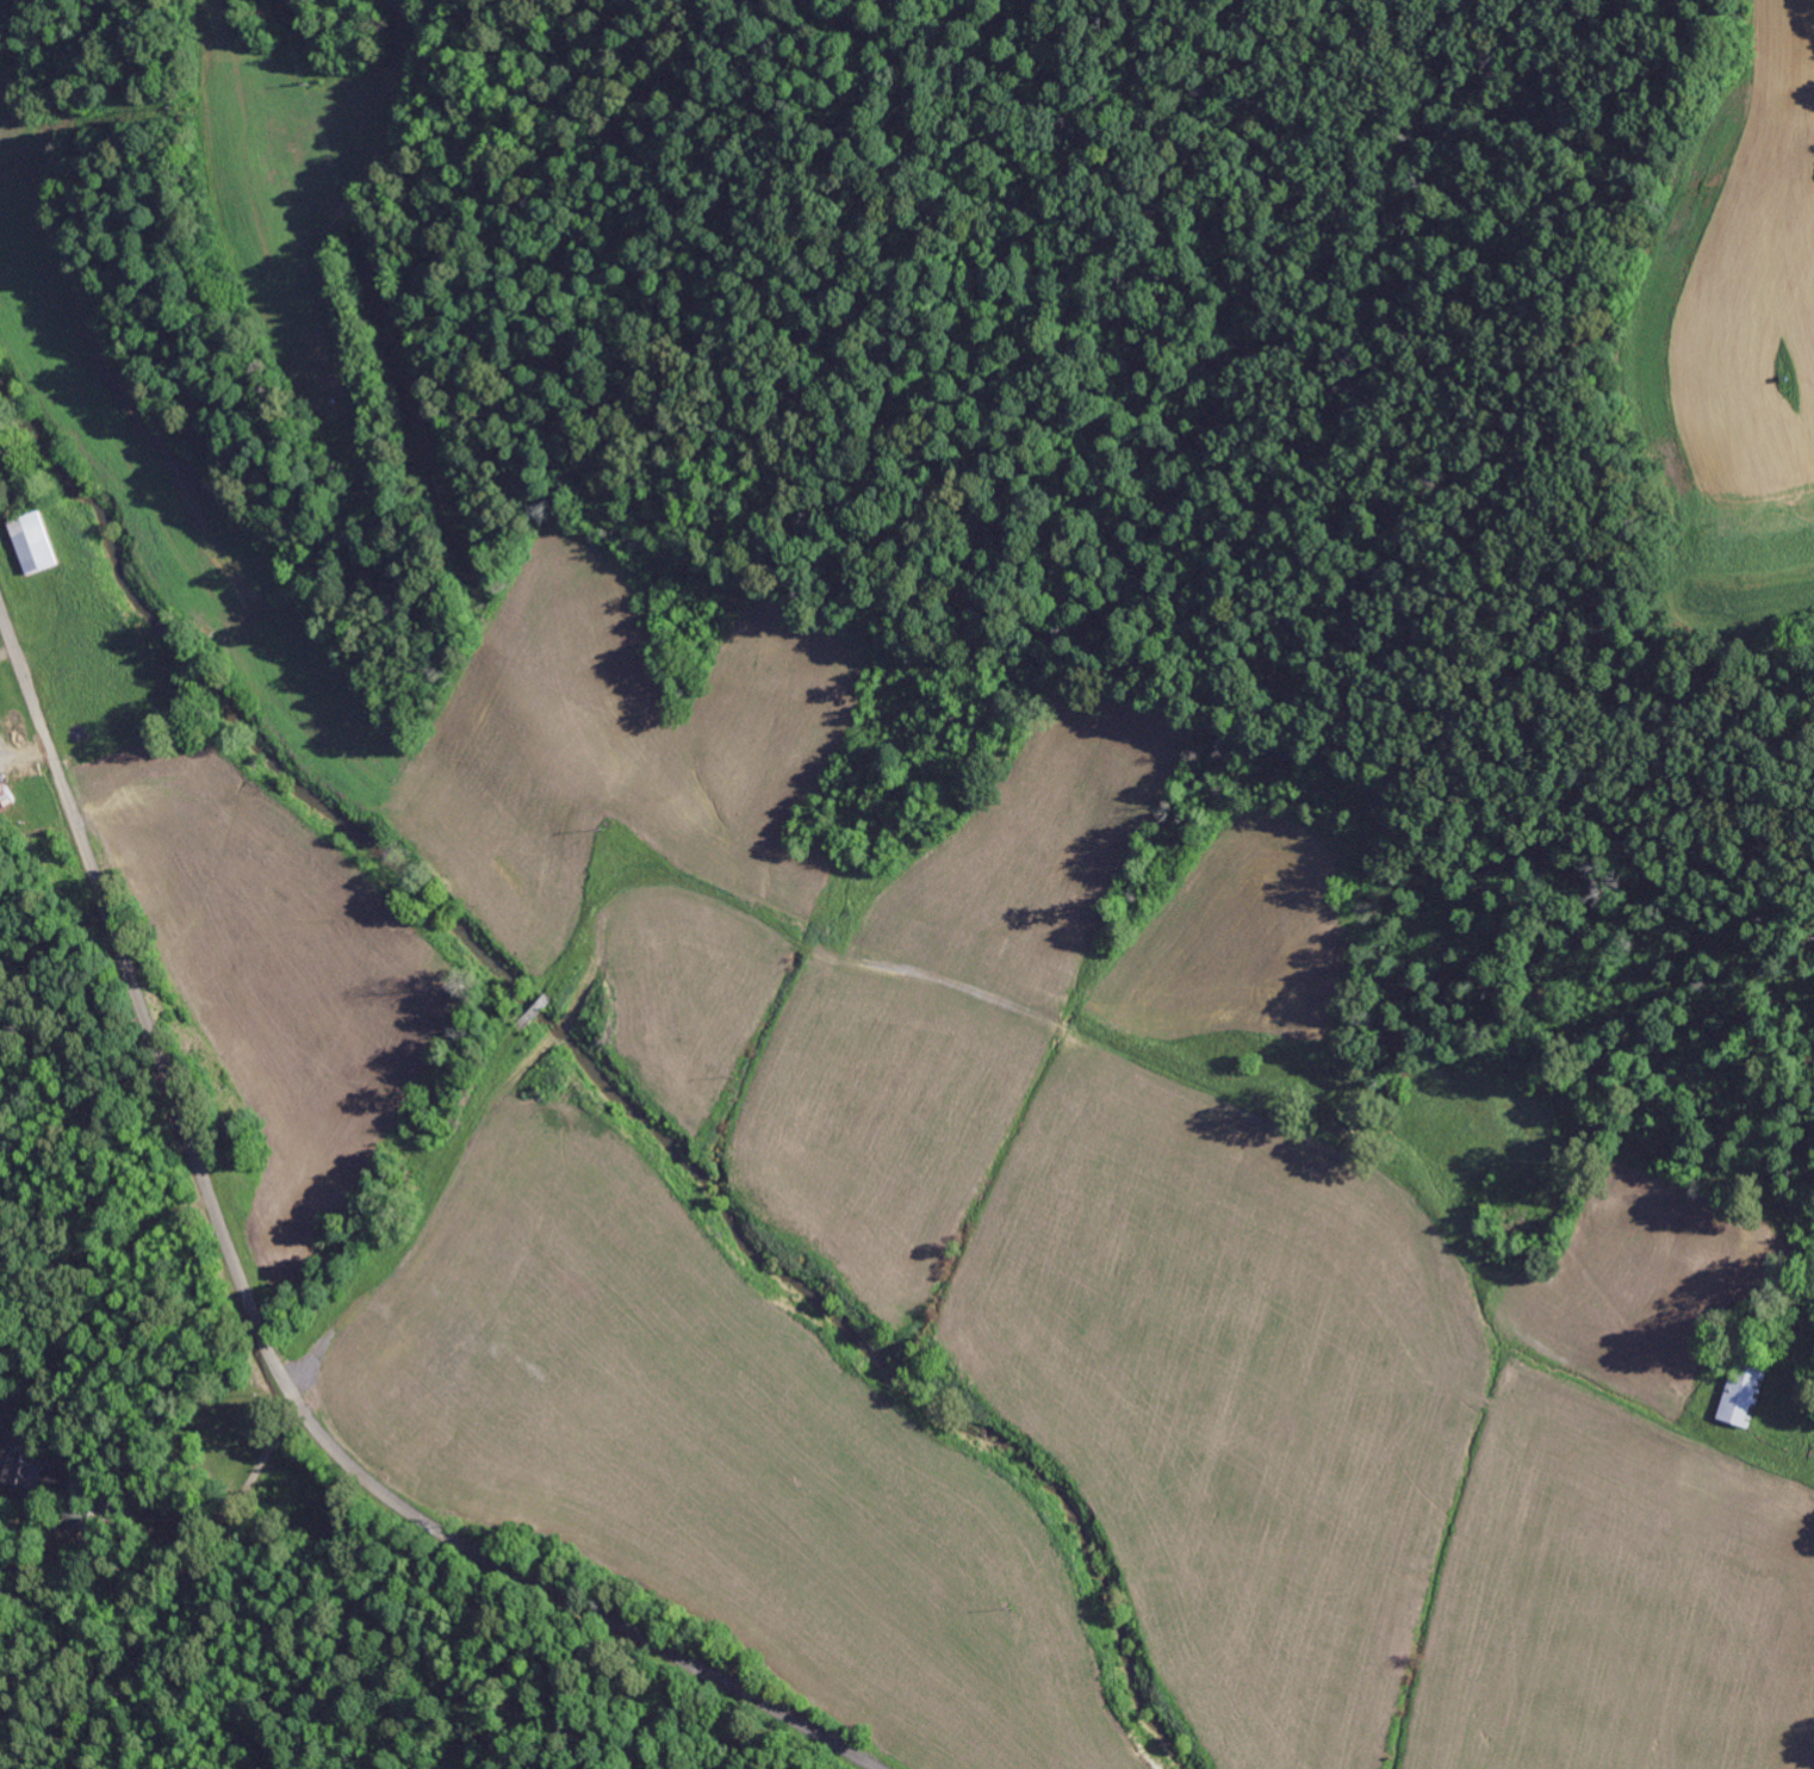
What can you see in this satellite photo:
building: (33, 542)
road: (410, 1091)
road: (260, 1332)
building: (1745, 1386)

